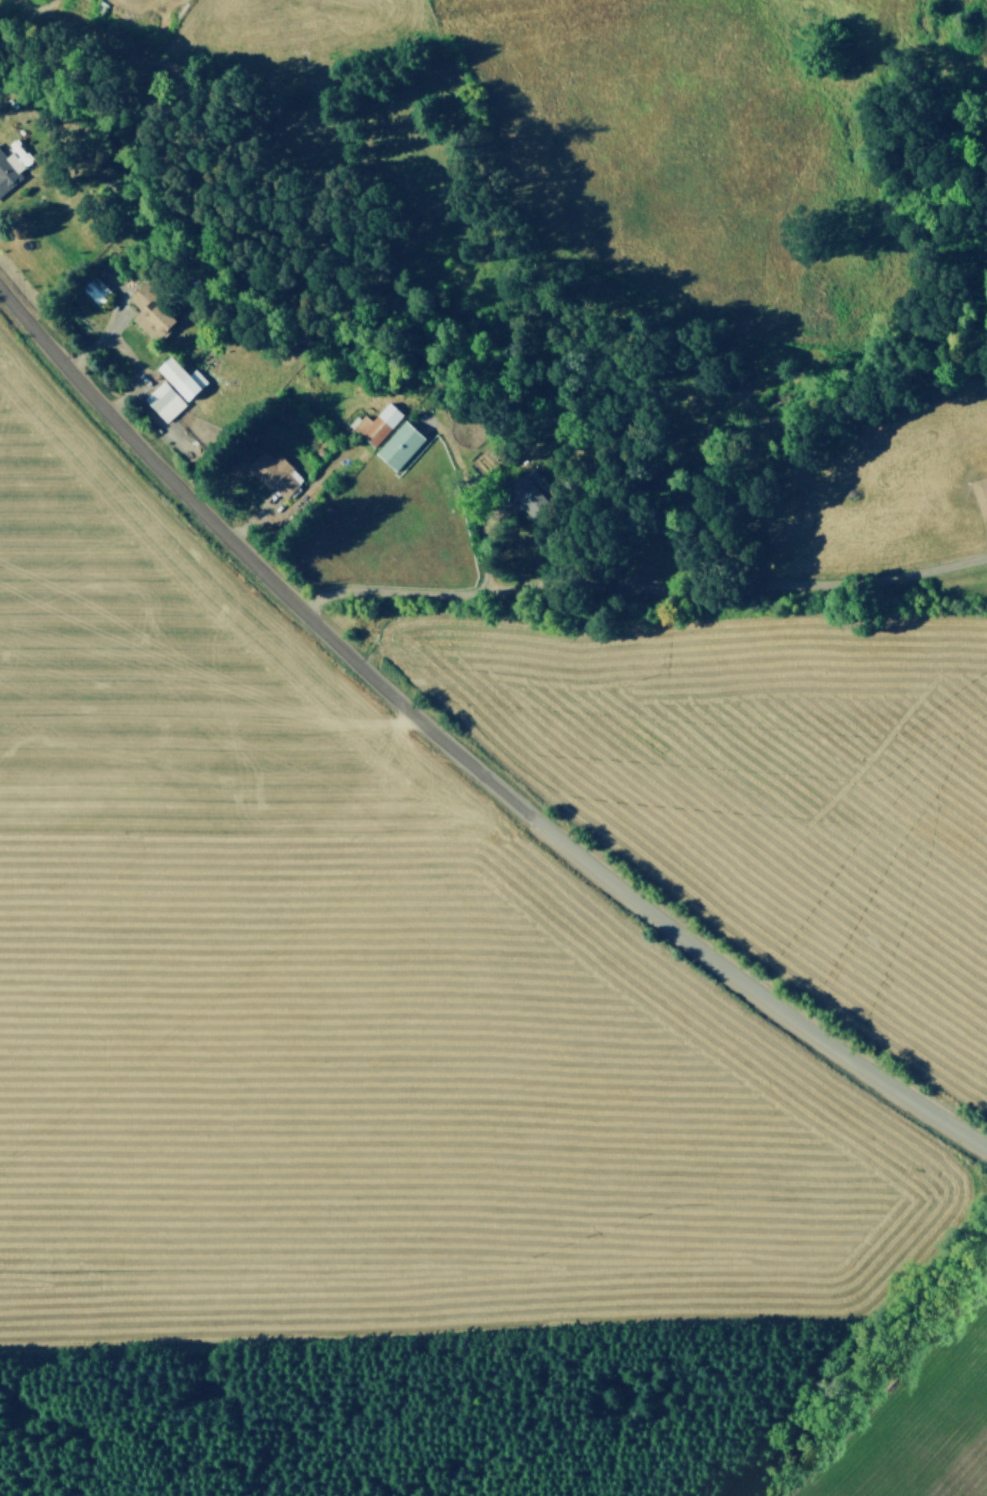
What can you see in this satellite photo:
crop: (655, 119)
building: (8, 168)
building: (95, 289)
building: (149, 312)
building: (170, 368)
building: (162, 399)
building: (374, 421)
building: (397, 442)
building: (273, 472)
building: (529, 492)
building: (980, 494)
road: (471, 498)
road: (639, 585)
road: (461, 755)
crop: (476, 1035)

